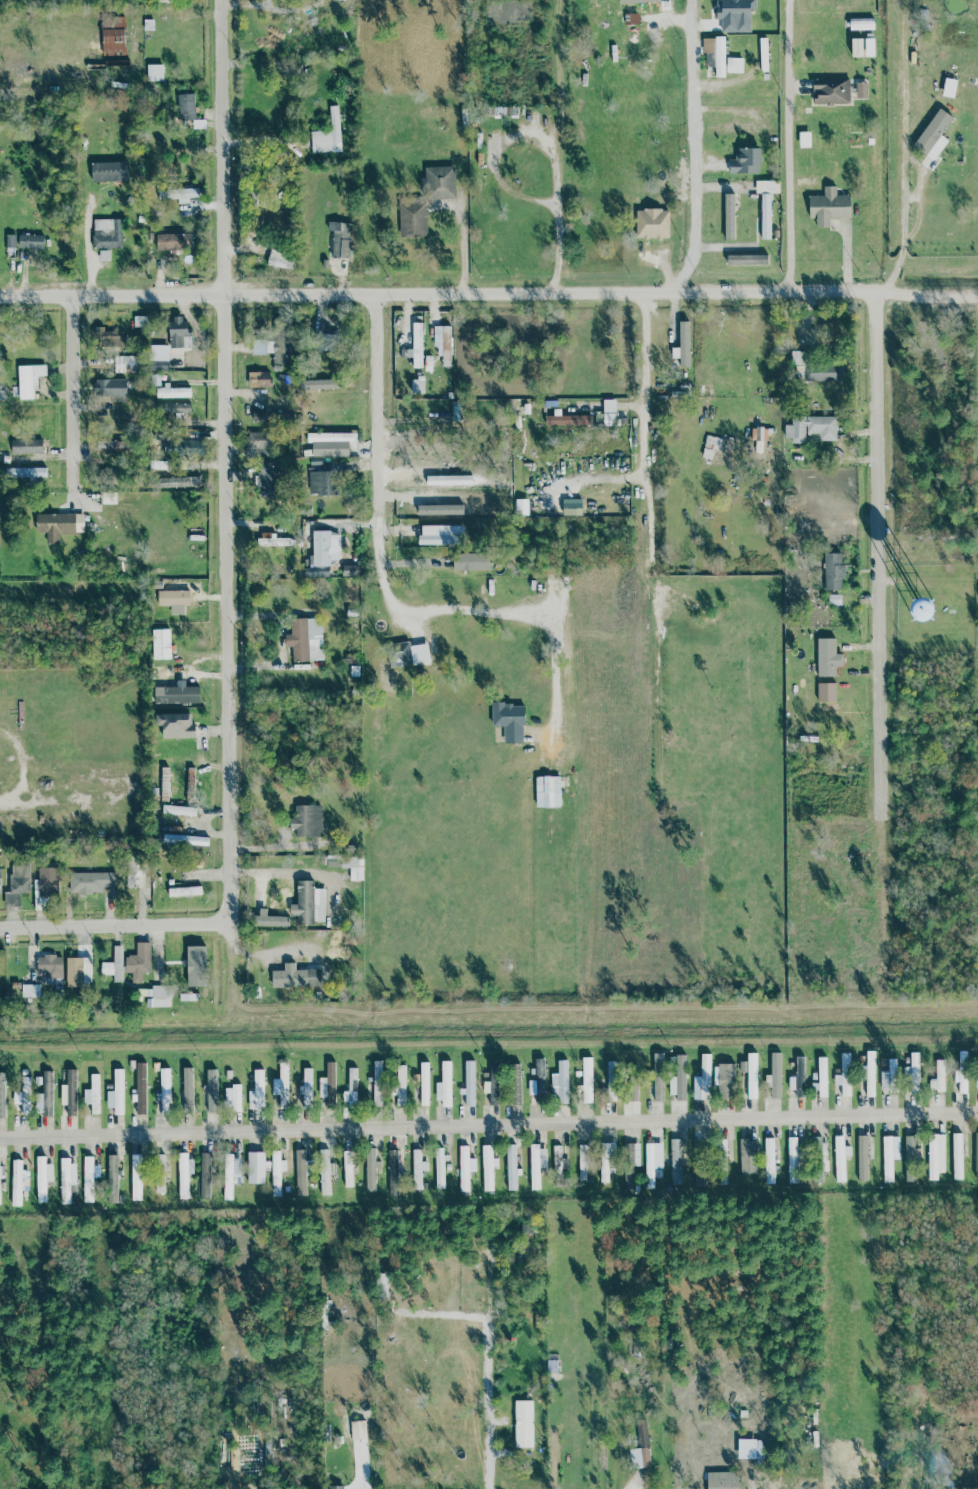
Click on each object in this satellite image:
building: (637, 1)
road: (271, 8)
building: (735, 14)
building: (861, 24)
building: (113, 36)
building: (856, 47)
building: (708, 52)
building: (719, 56)
building: (734, 65)
building: (155, 72)
building: (831, 91)
building: (934, 134)
building: (328, 135)
road: (543, 146)
road: (783, 146)
road: (687, 148)
building: (746, 161)
road: (288, 162)
building: (109, 172)
building: (439, 183)
building: (182, 194)
building: (766, 204)
building: (829, 207)
building: (729, 216)
building: (412, 219)
building: (652, 223)
road: (901, 229)
building: (107, 233)
building: (340, 239)
building: (11, 241)
building: (31, 241)
building: (173, 242)
building: (747, 259)
road: (469, 262)
road: (489, 294)
building: (140, 321)
road: (406, 325)
building: (179, 334)
building: (109, 338)
building: (326, 342)
building: (443, 344)
building: (684, 344)
building: (417, 345)
building: (157, 360)
building: (123, 364)
building: (814, 369)
building: (259, 379)
building: (29, 380)
building: (320, 384)
building: (110, 387)
road: (71, 392)
building: (173, 392)
road: (644, 395)
building: (609, 405)
building: (177, 408)
road: (376, 413)
building: (280, 415)
building: (259, 417)
building: (567, 420)
building: (811, 428)
building: (258, 444)
building: (330, 444)
building: (26, 446)
building: (112, 446)
building: (177, 447)
road: (227, 460)
building: (157, 464)
building: (25, 472)
building: (270, 479)
building: (181, 482)
building: (322, 483)
building: (572, 510)
building: (59, 525)
building: (441, 536)
building: (273, 542)
building: (325, 548)
road: (879, 557)
building: (471, 561)
building: (833, 571)
building: (174, 600)
building: (921, 609)
road: (481, 612)
building: (305, 639)
building: (161, 644)
building: (408, 654)
building: (827, 657)
building: (827, 692)
building: (176, 694)
building: (509, 721)
building: (176, 725)
building: (548, 791)
building: (178, 810)
building: (307, 821)
building: (185, 840)
road: (285, 847)
building: (333, 861)
building: (353, 867)
building: (135, 869)
road: (282, 872)
building: (0, 873)
building: (90, 882)
building: (48, 886)
building: (185, 891)
building: (309, 903)
building: (269, 921)
road: (116, 924)
building: (138, 962)
building: (114, 965)
building: (50, 966)
building: (196, 966)
building: (78, 971)
building: (296, 977)
building: (30, 991)
building: (160, 997)
building: (963, 1057)
building: (870, 1073)
building: (914, 1073)
building: (844, 1075)
building: (892, 1075)
building: (939, 1075)
building: (752, 1076)
building: (658, 1077)
building: (774, 1077)
building: (822, 1077)
building: (798, 1078)
building: (678, 1079)
building: (702, 1079)
building: (587, 1080)
building: (611, 1080)
building: (540, 1081)
building: (726, 1081)
building: (961, 1081)
building: (494, 1082)
building: (377, 1083)
building: (469, 1083)
building: (515, 1083)
building: (560, 1083)
building: (424, 1084)
building: (976, 1084)
building: (283, 1085)
building: (328, 1085)
building: (444, 1085)
building: (400, 1086)
building: (141, 1088)
building: (351, 1089)
building: (188, 1090)
building: (306, 1090)
building: (69, 1091)
building: (165, 1091)
building: (211, 1091)
building: (257, 1091)
building: (632, 1092)
building: (116, 1093)
building: (92, 1094)
building: (25, 1095)
building: (45, 1095)
building: (2, 1096)
building: (17, 1098)
building: (232, 1098)
road: (488, 1124)
building: (935, 1154)
building: (821, 1155)
building: (889, 1156)
building: (957, 1156)
building: (976, 1156)
building: (749, 1157)
building: (840, 1158)
building: (862, 1158)
building: (910, 1159)
building: (607, 1160)
building: (792, 1160)
building: (559, 1161)
building: (769, 1161)
building: (582, 1162)
building: (651, 1162)
building: (675, 1162)
building: (630, 1163)
building: (537, 1165)
building: (488, 1167)
building: (511, 1167)
building: (255, 1168)
building: (418, 1168)
building: (440, 1168)
building: (465, 1168)
road: (212, 1169)
building: (371, 1170)
building: (348, 1171)
building: (393, 1173)
building: (160, 1174)
building: (184, 1174)
building: (205, 1176)
building: (228, 1176)
building: (42, 1177)
building: (136, 1177)
building: (89, 1178)
building: (325, 1178)
building: (67, 1179)
building: (112, 1179)
building: (18, 1181)
building: (275, 1185)
building: (301, 1185)
building: (527, 1232)
road: (499, 1406)
building: (523, 1424)
building: (358, 1430)
building: (641, 1448)
building: (722, 1480)
building: (336, 1487)
road: (361, 1487)
road: (629, 1488)

